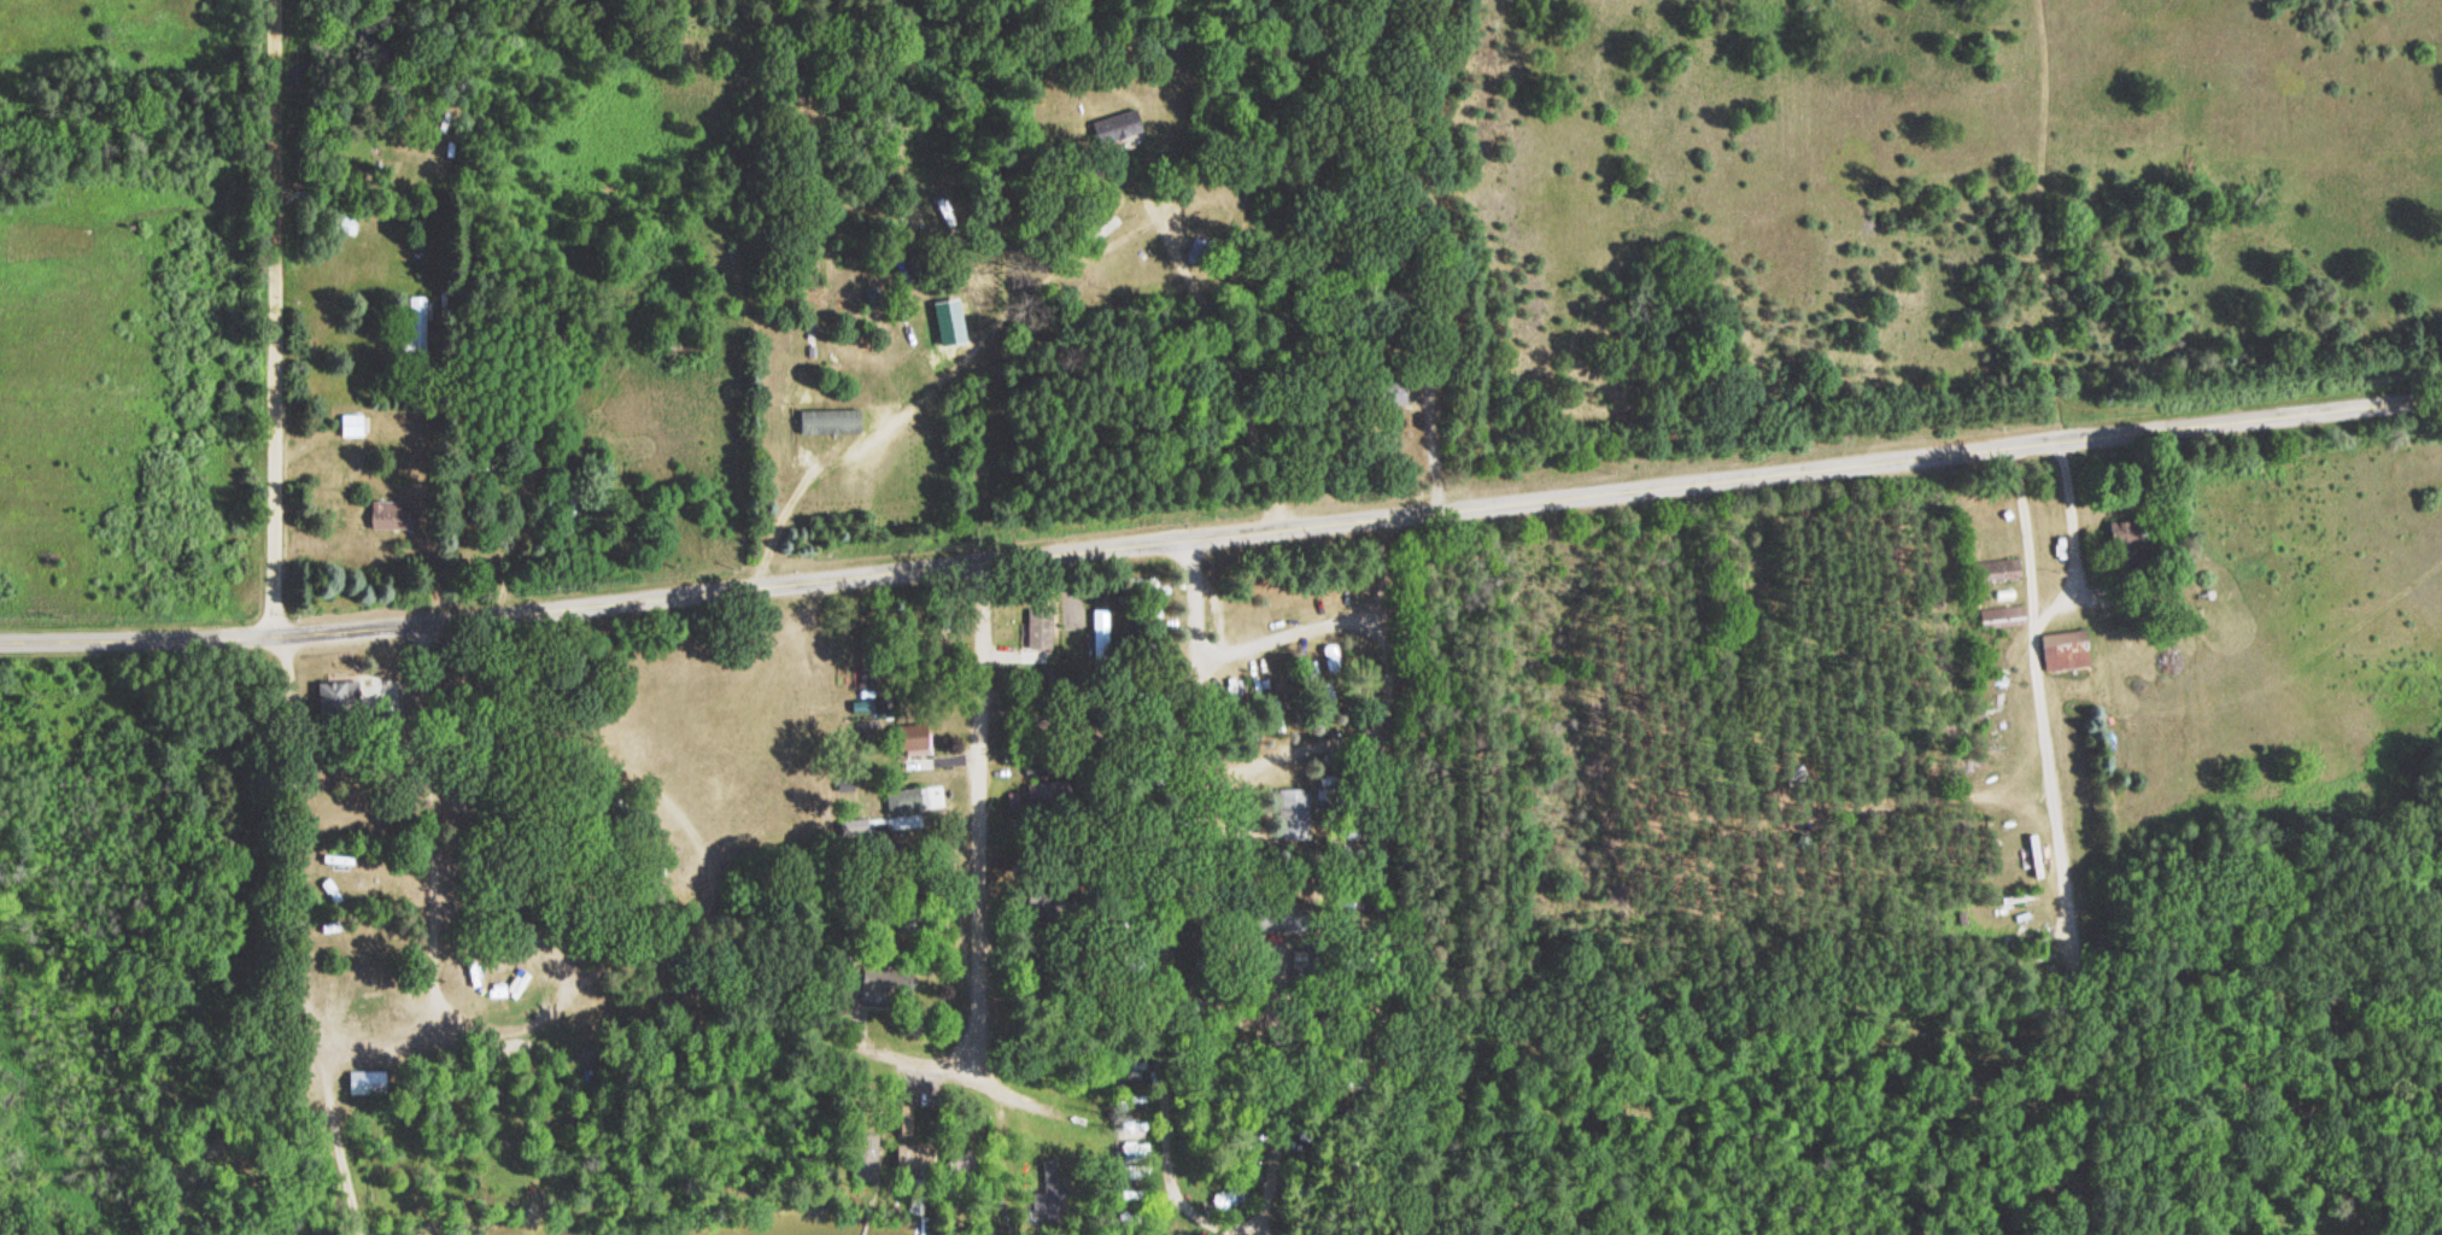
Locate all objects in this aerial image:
building: (342, 224)
road: (276, 317)
building: (415, 329)
road: (929, 388)
building: (793, 394)
building: (1388, 394)
building: (355, 426)
building: (572, 513)
road: (1220, 521)
building: (1037, 631)
road: (1327, 665)
building: (1331, 697)
road: (1141, 706)
building: (1276, 720)
road: (974, 814)
building: (1299, 815)
road: (248, 820)
road: (1330, 972)
road: (932, 1063)
road: (1173, 1223)
road: (1206, 1225)
road: (1170, 1229)

